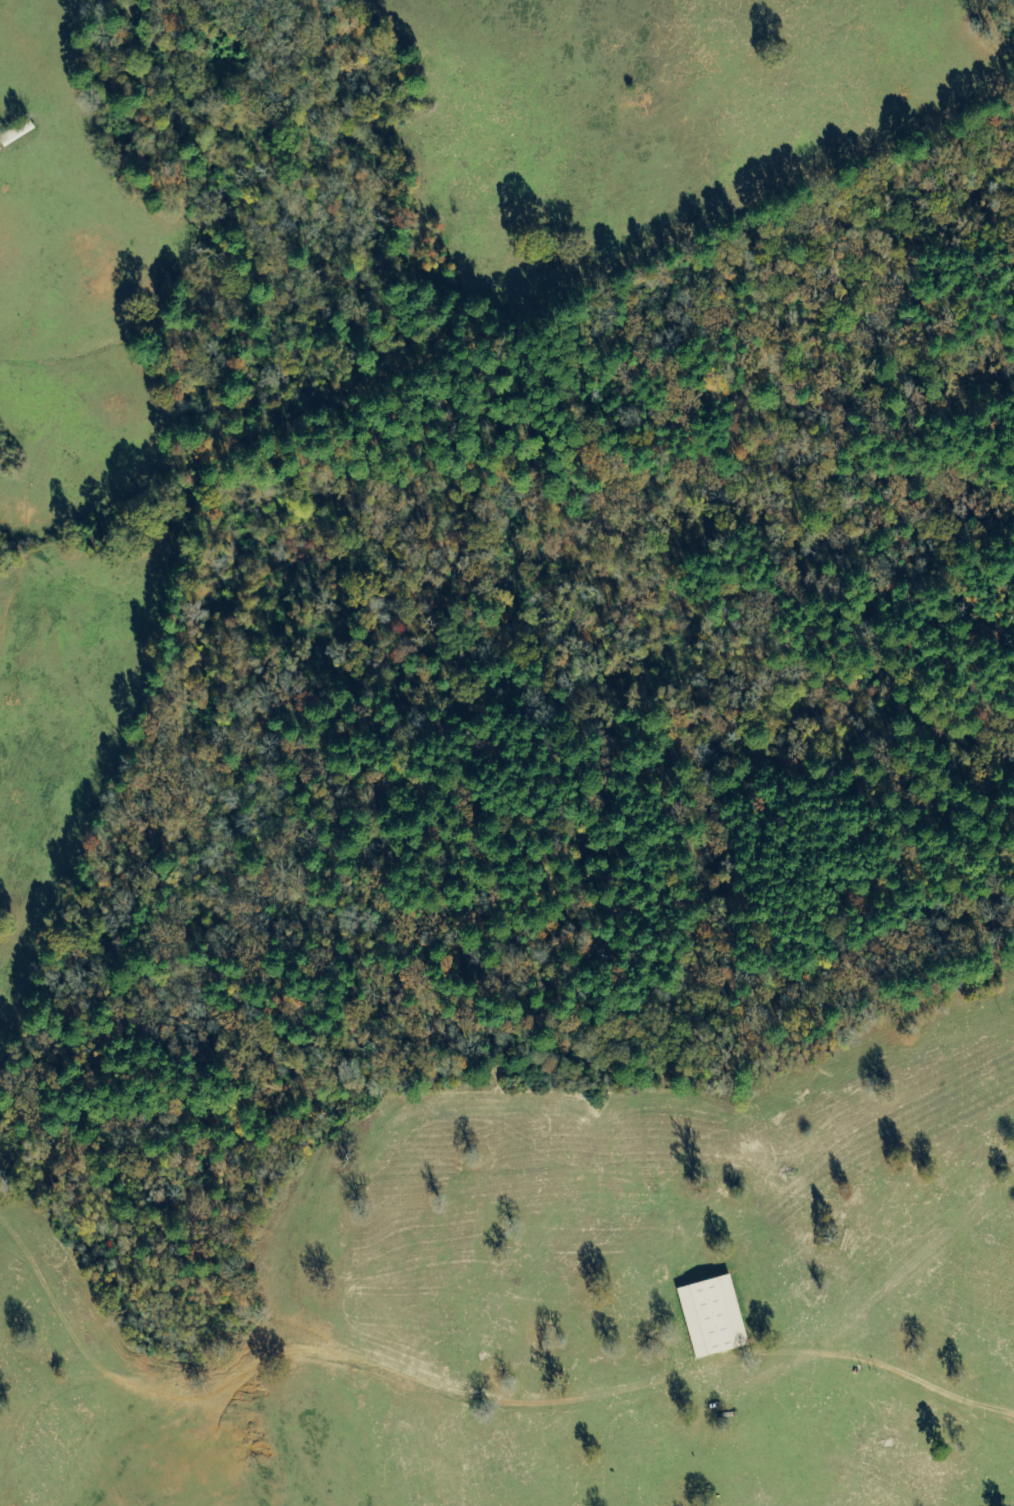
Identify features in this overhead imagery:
building: (715, 1315)

